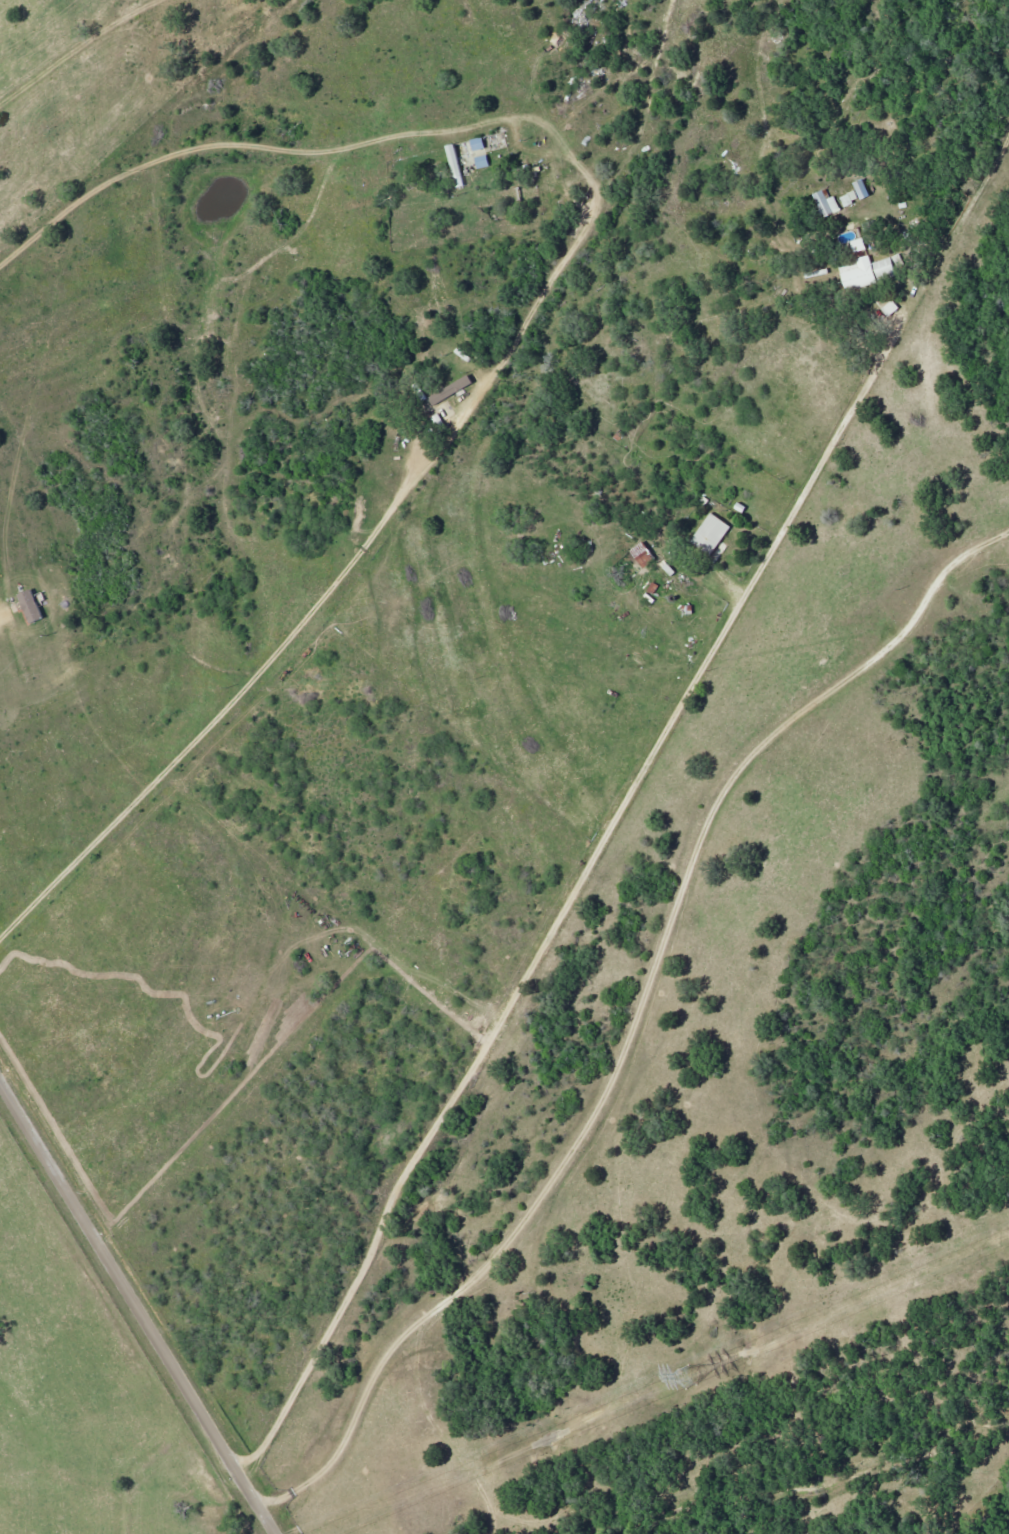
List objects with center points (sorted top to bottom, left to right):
building: (476, 144)
building: (480, 162)
building: (859, 188)
building: (848, 199)
building: (825, 203)
building: (857, 245)
building: (883, 267)
building: (856, 274)
building: (449, 390)
building: (709, 534)
building: (641, 554)
building: (29, 606)
road: (642, 748)
road: (632, 1027)
road: (141, 1301)
power tower: (683, 1379)

